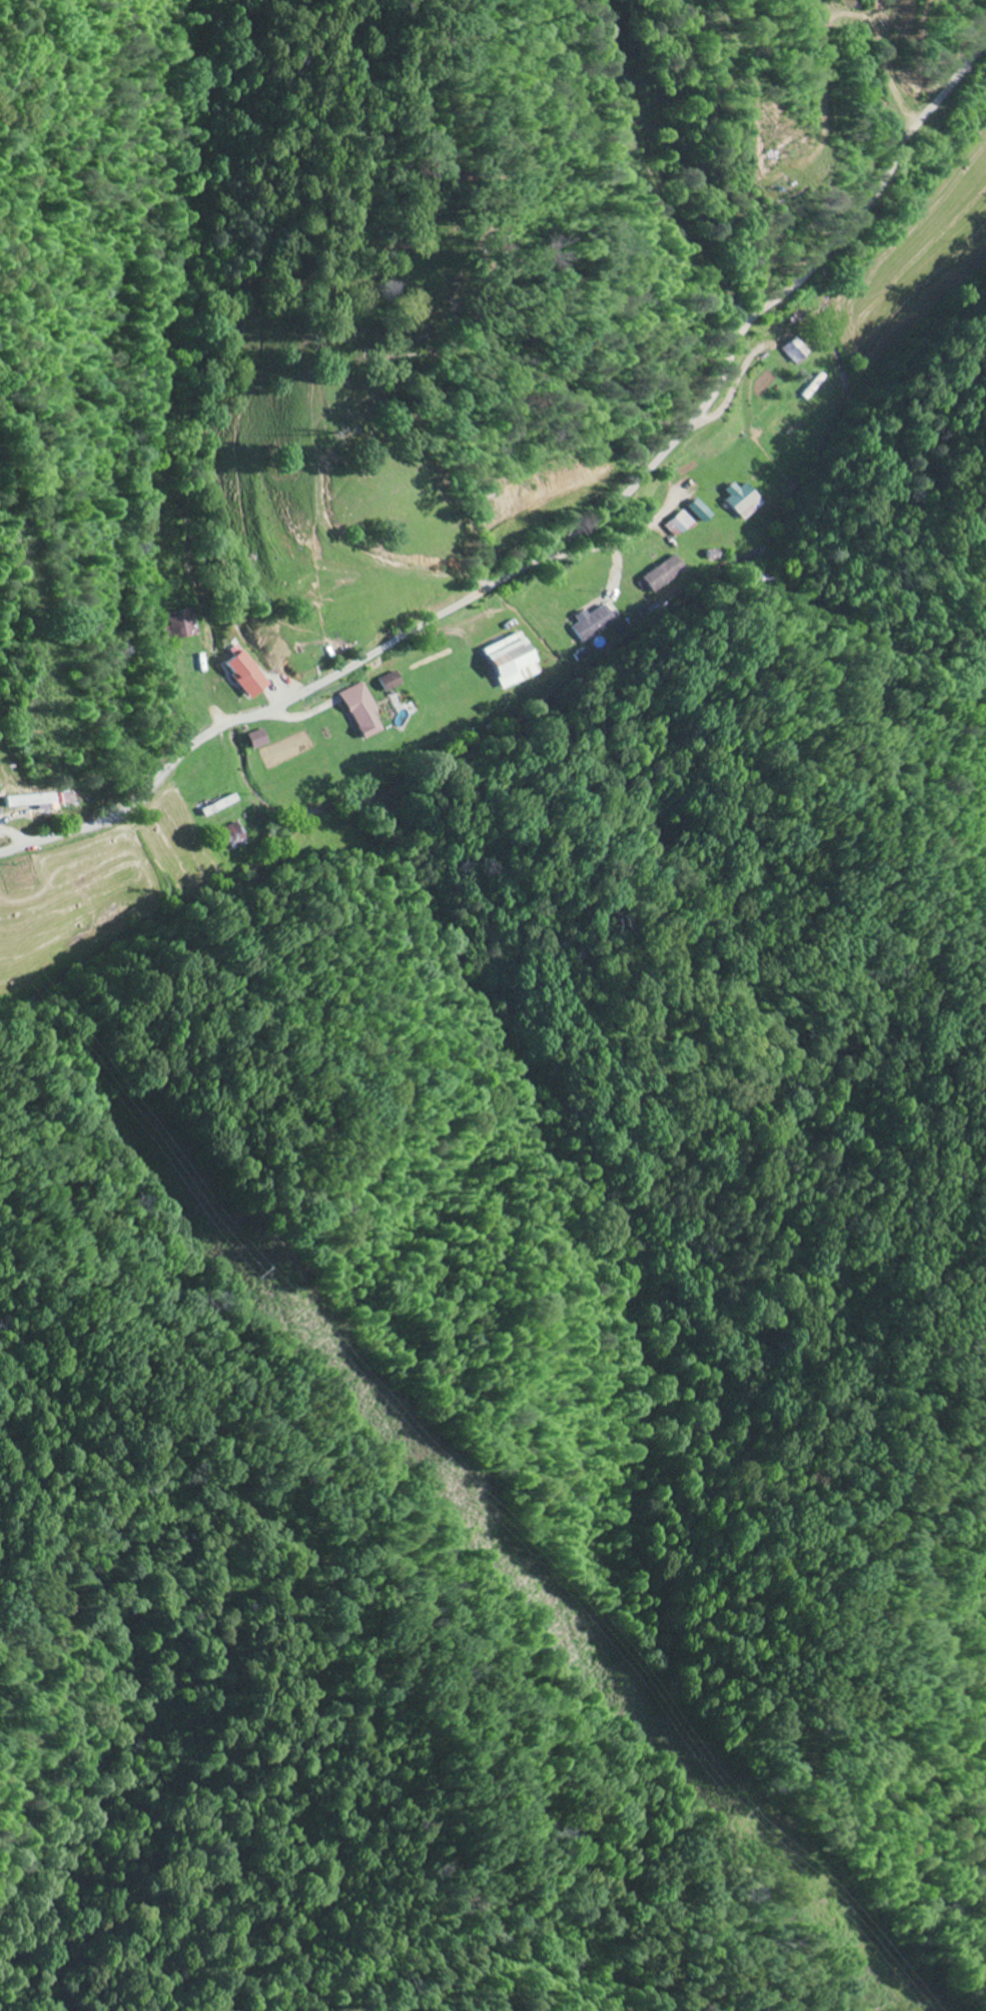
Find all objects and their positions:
road: (647, 207)
building: (797, 351)
building: (743, 501)
building: (702, 511)
building: (682, 524)
road: (568, 539)
building: (665, 574)
building: (593, 622)
building: (184, 624)
building: (511, 662)
building: (247, 675)
building: (393, 682)
building: (362, 710)
building: (257, 740)
building: (30, 800)
building: (233, 836)

